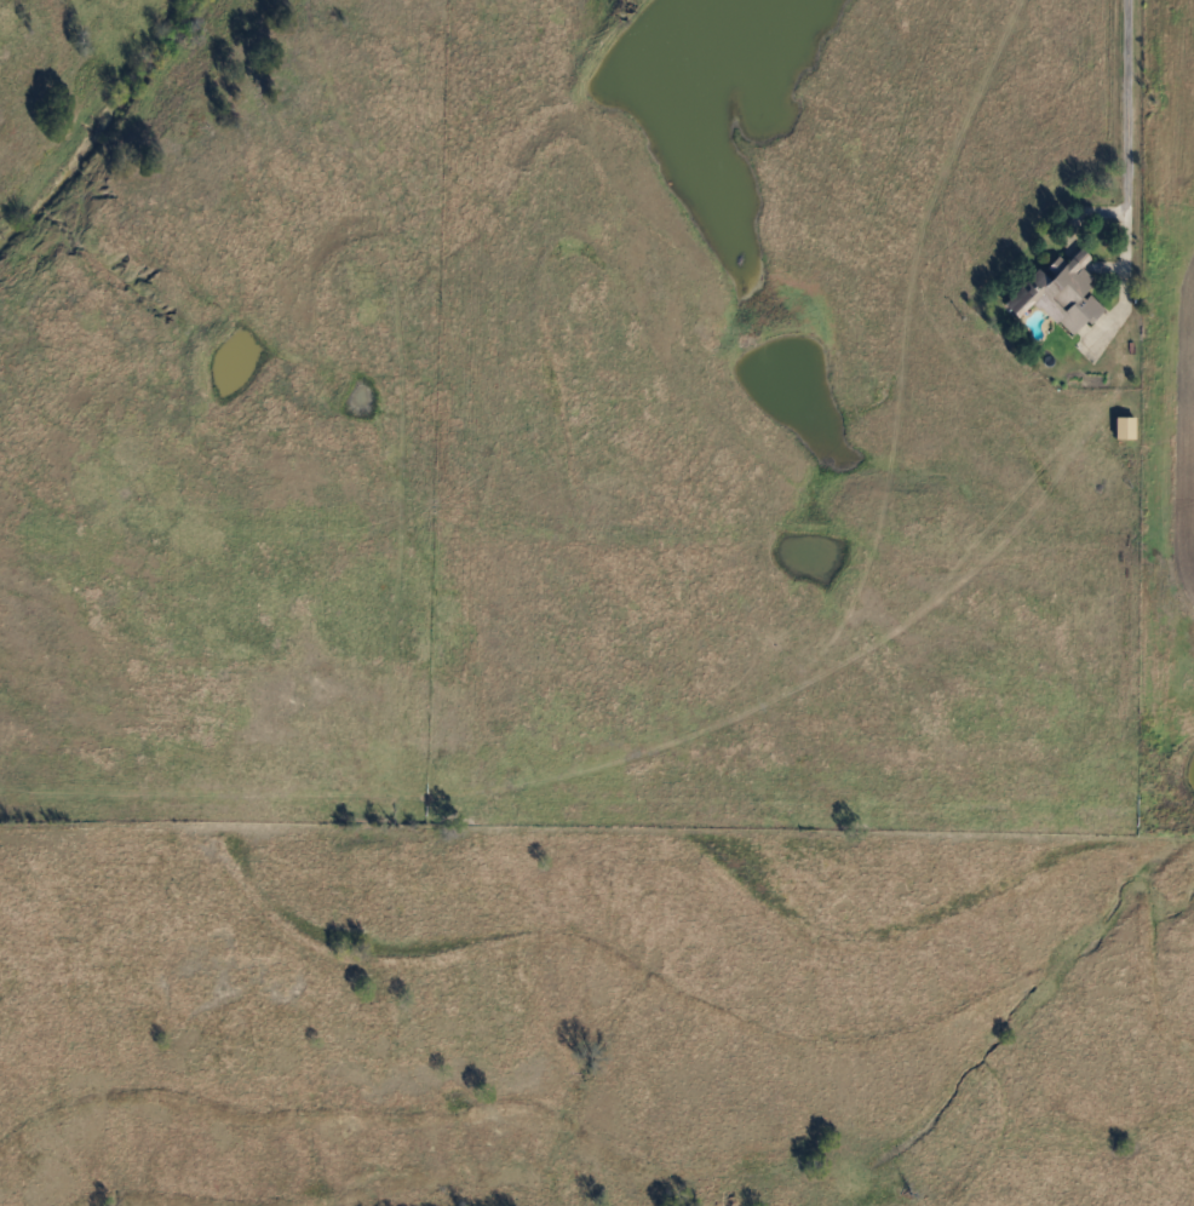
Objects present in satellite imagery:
road: (1119, 136)
building: (1056, 292)
building: (1123, 427)
crop: (1178, 453)

